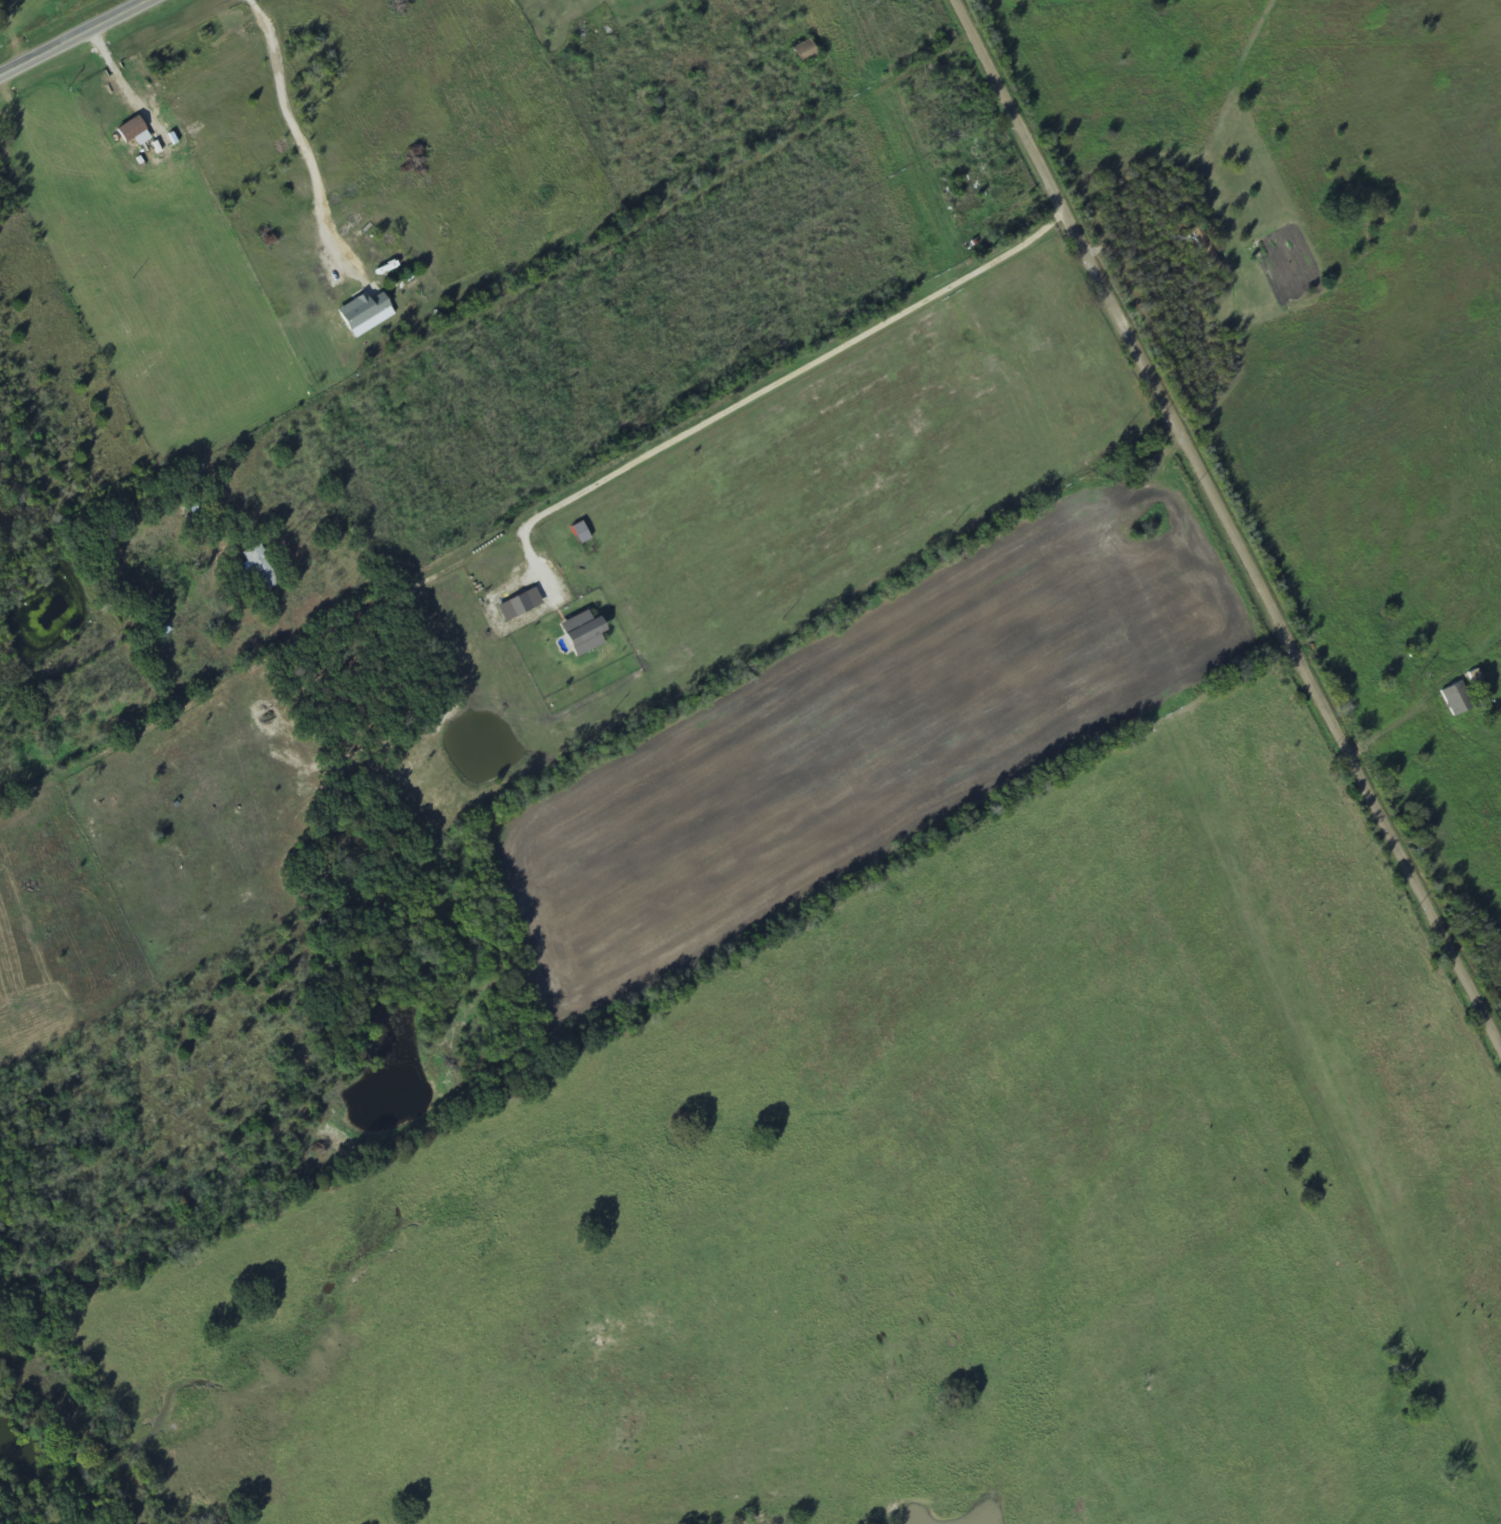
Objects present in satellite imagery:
road: (73, 36)
building: (803, 52)
building: (364, 314)
road: (1225, 525)
building: (257, 567)
building: (518, 605)
building: (581, 634)
building: (1455, 700)
road: (1069, 1011)

